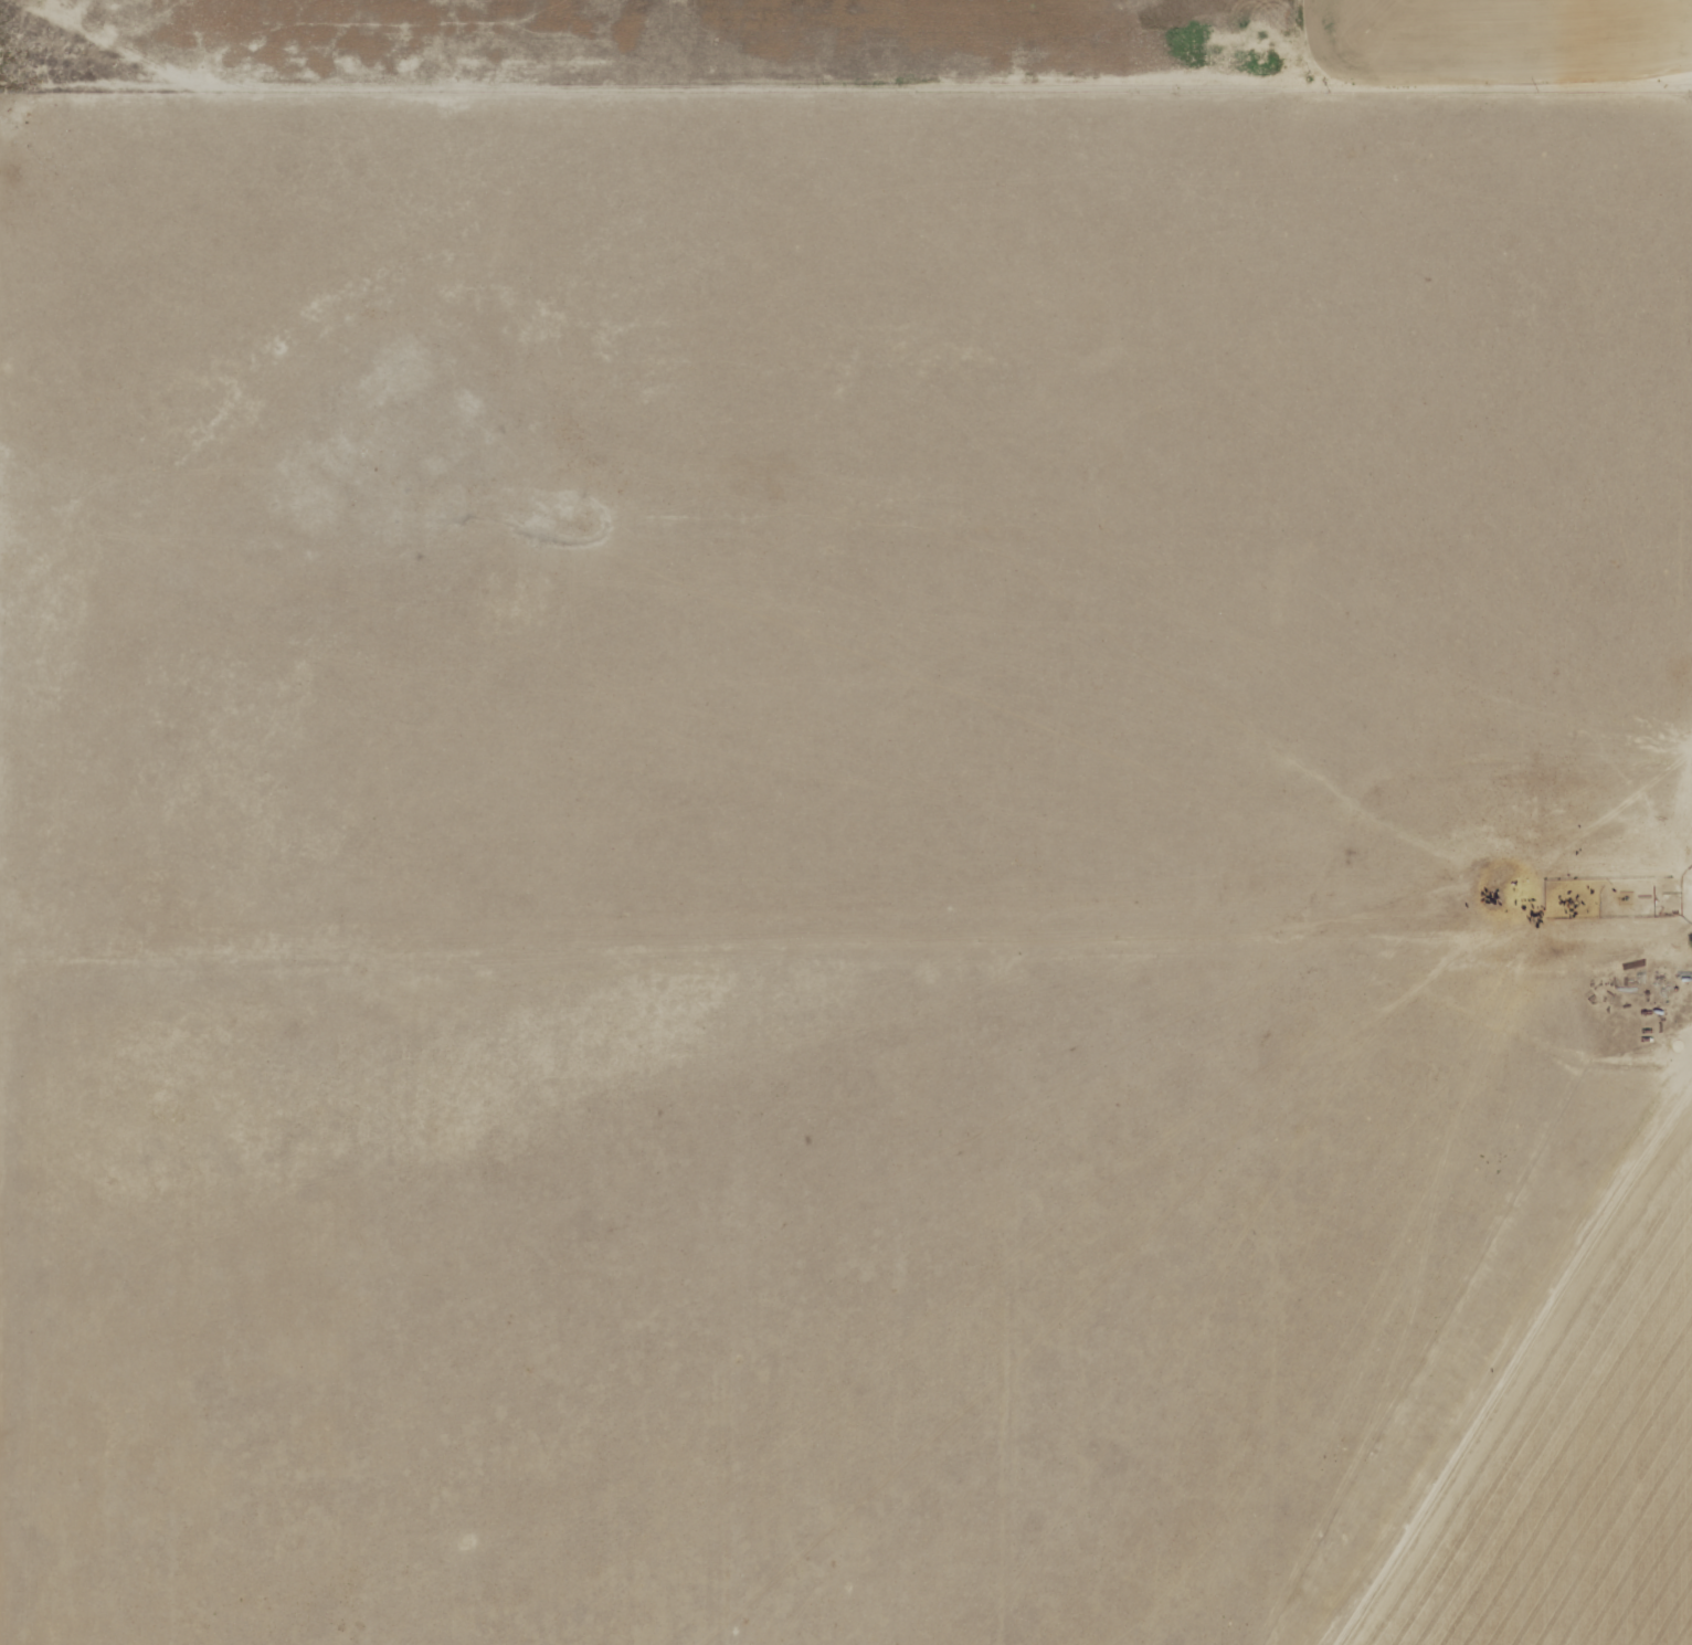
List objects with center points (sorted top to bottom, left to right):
road: (1610, 95)

